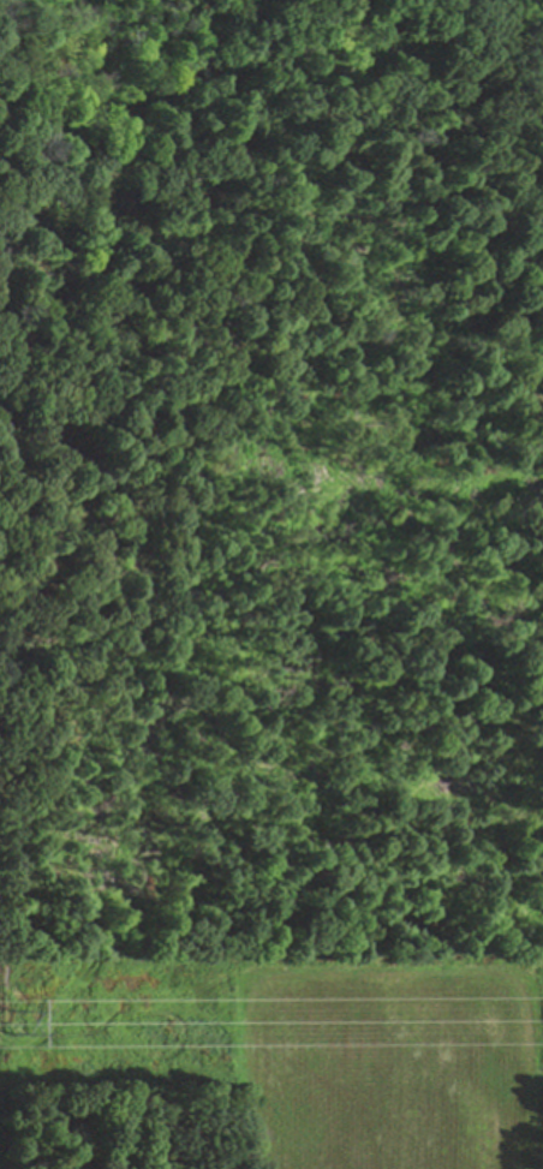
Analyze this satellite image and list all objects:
power tower: (18, 1020)

